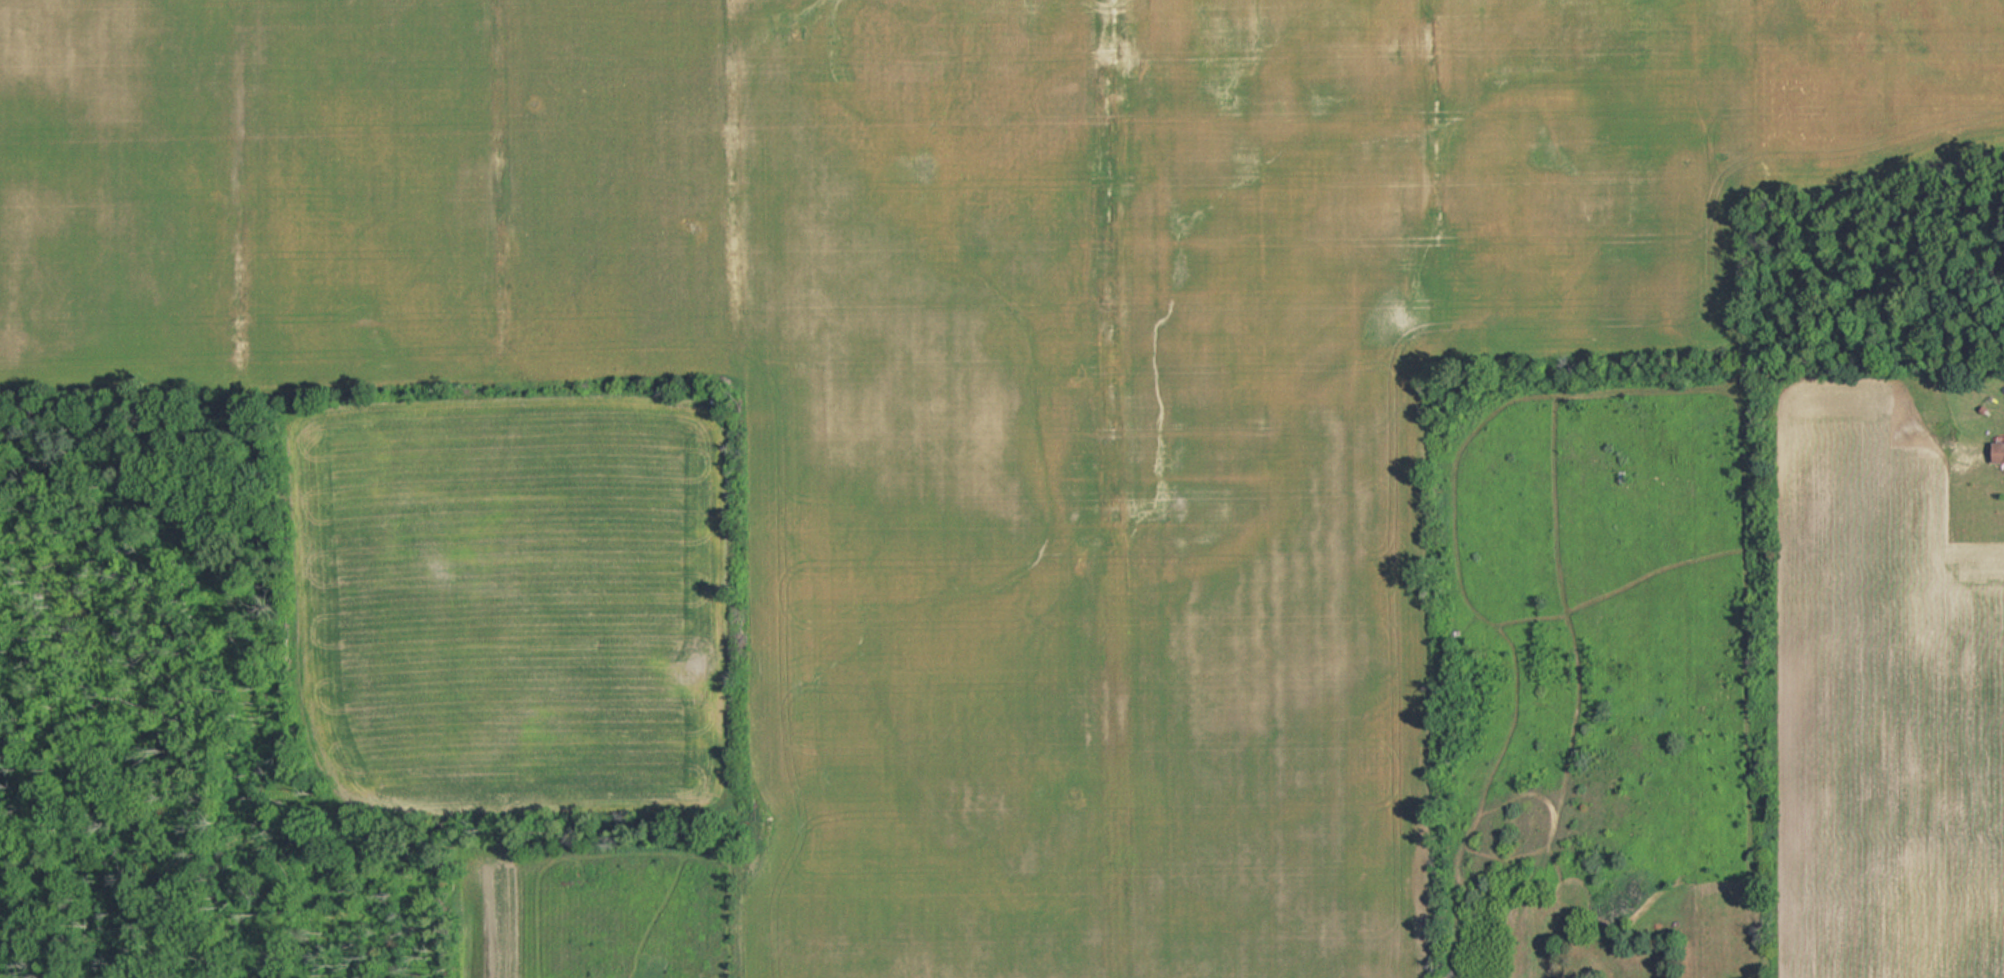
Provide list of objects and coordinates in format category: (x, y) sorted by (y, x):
building: (2001, 452)

